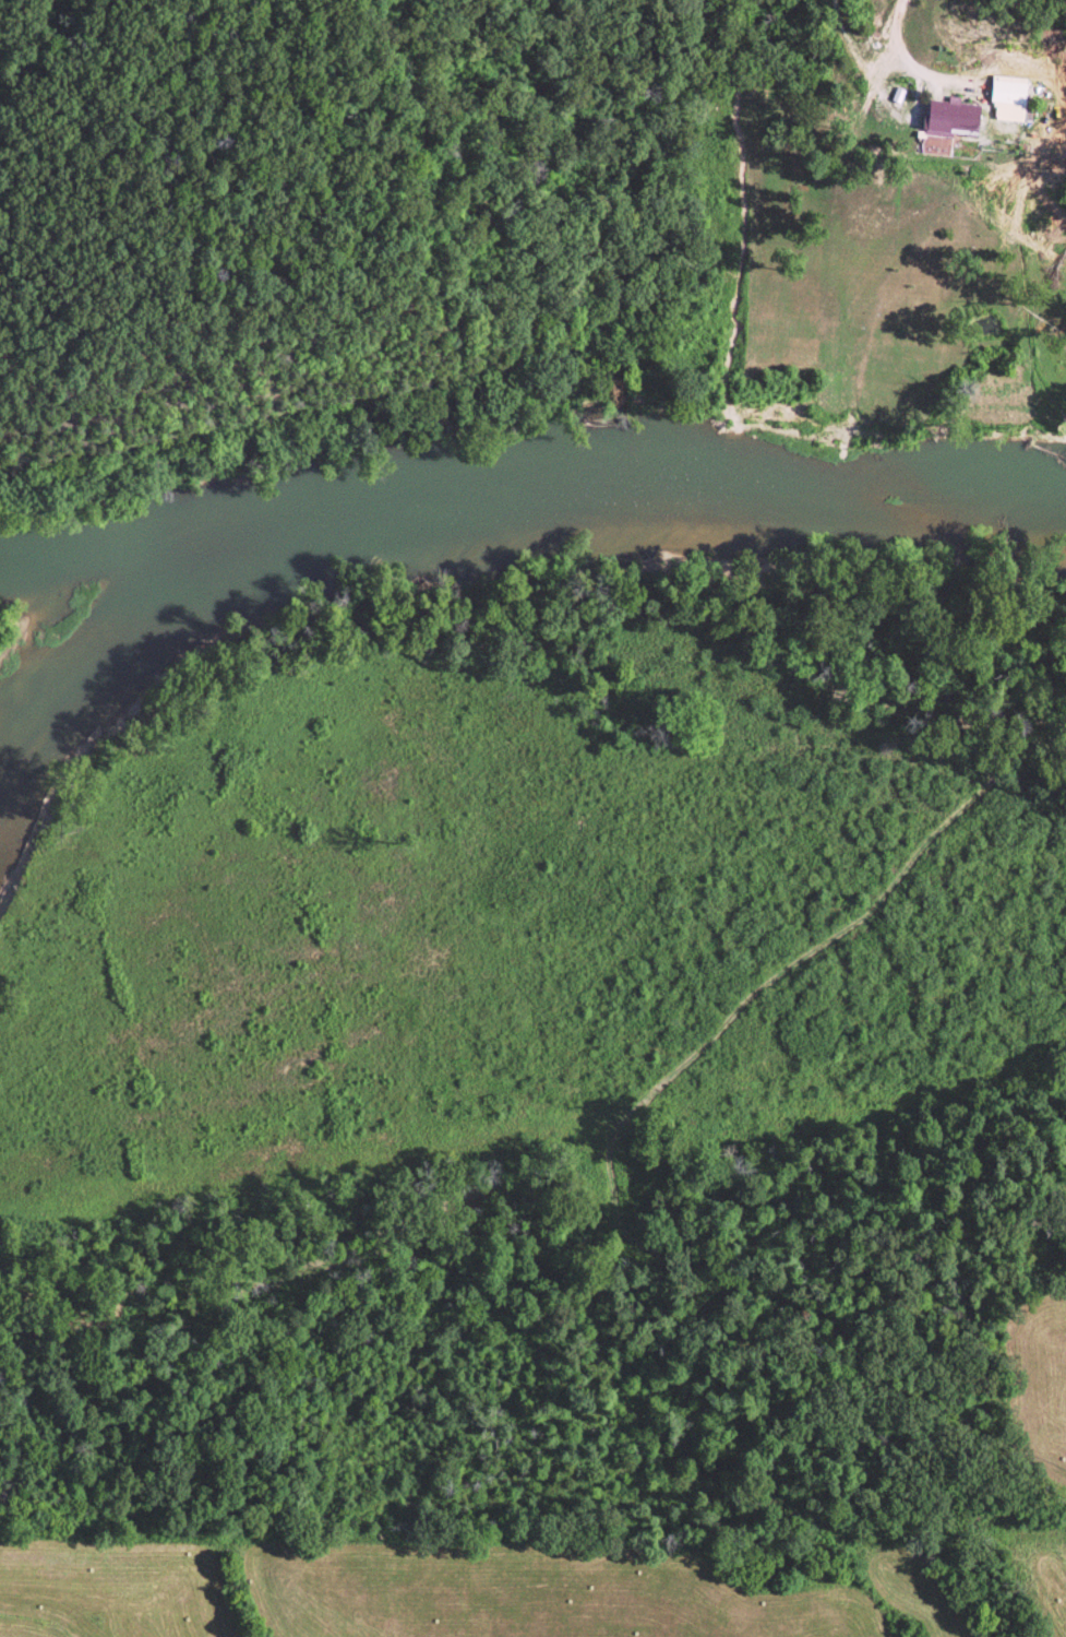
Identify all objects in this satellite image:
road: (900, 45)
building: (1015, 98)
building: (960, 116)
river: (517, 518)

